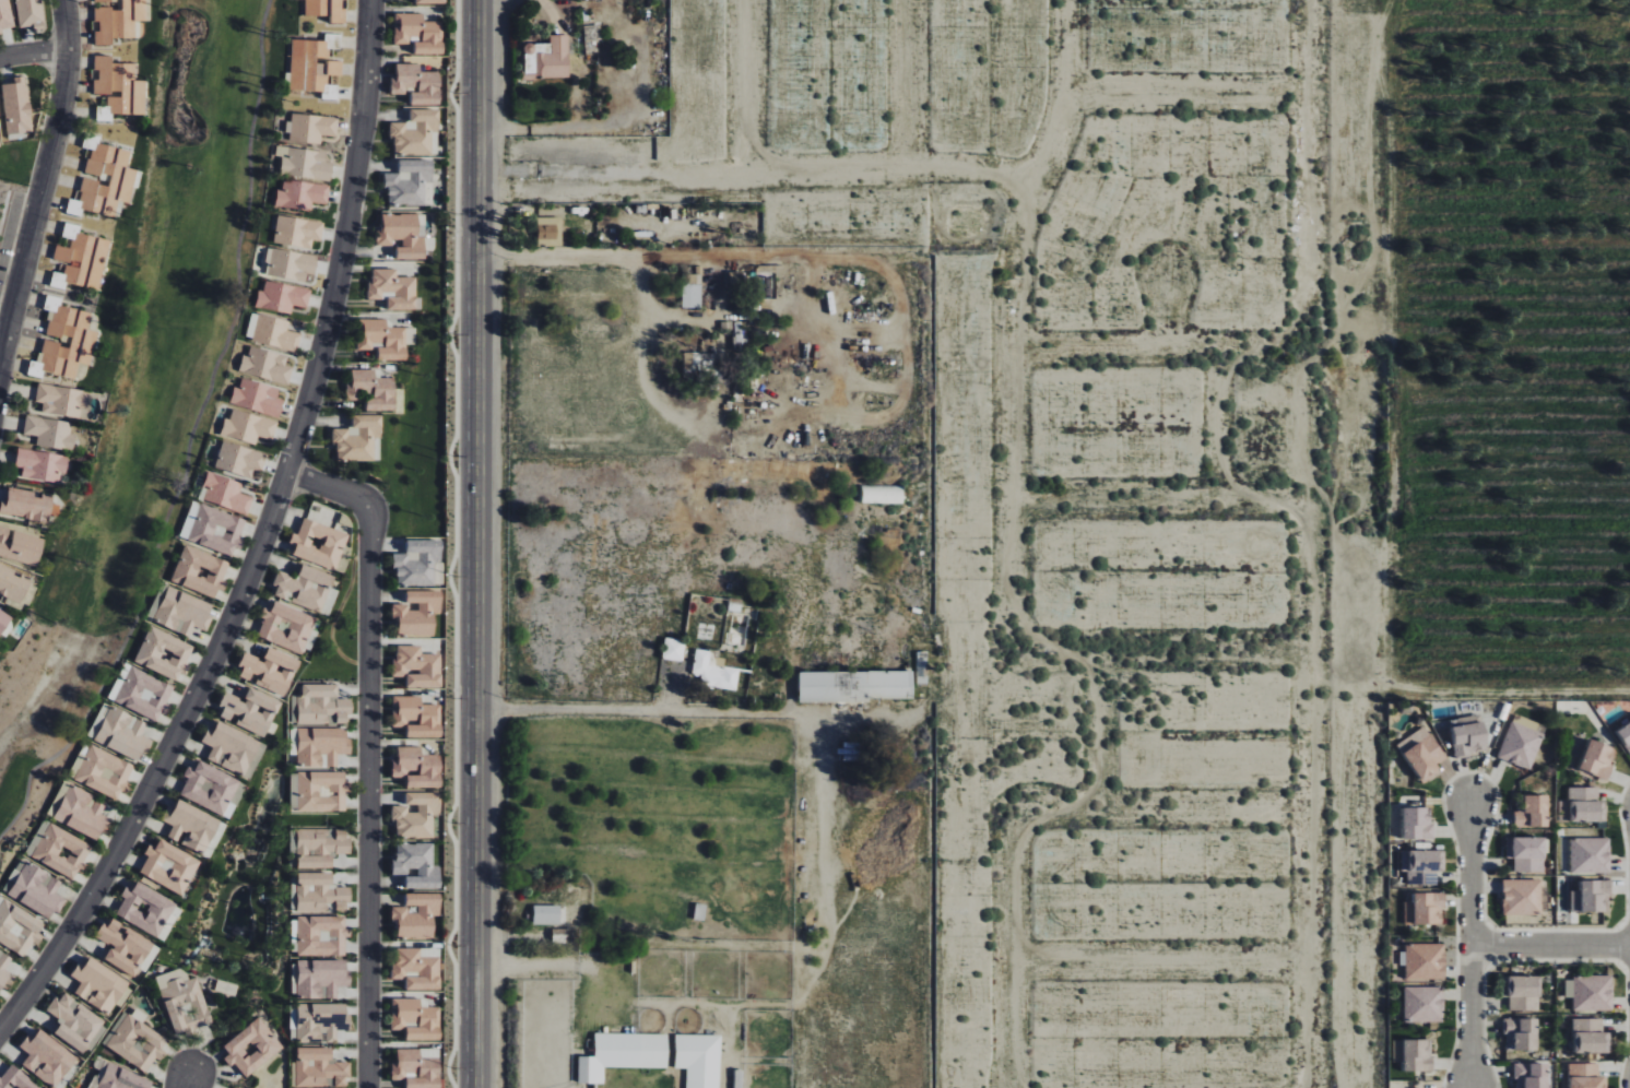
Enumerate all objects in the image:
building: (428, 1)
building: (327, 10)
building: (29, 13)
building: (4, 15)
building: (120, 21)
fountain: (186, 31)
building: (418, 33)
road: (33, 52)
building: (547, 58)
building: (314, 63)
building: (416, 84)
building: (119, 87)
building: (331, 92)
building: (16, 107)
building: (311, 128)
building: (415, 133)
building: (0, 145)
building: (304, 164)
building: (116, 175)
road: (42, 182)
building: (409, 182)
building: (300, 194)
building: (550, 230)
building: (297, 232)
building: (402, 236)
building: (81, 260)
road: (342, 260)
building: (290, 264)
building: (393, 289)
building: (692, 296)
building: (282, 297)
building: (271, 332)
building: (76, 336)
building: (385, 340)
crop: (1510, 350)
building: (705, 363)
building: (265, 366)
building: (371, 390)
park: (147, 394)
building: (257, 398)
building: (62, 401)
building: (248, 427)
building: (50, 433)
road: (190, 439)
building: (357, 439)
road: (1393, 459)
building: (239, 460)
building: (42, 465)
building: (223, 493)
building: (883, 494)
building: (26, 504)
building: (215, 530)
road: (475, 543)
building: (317, 544)
building: (20, 546)
building: (200, 570)
building: (14, 584)
building: (304, 587)
building: (180, 611)
building: (417, 614)
building: (3, 619)
building: (285, 626)
building: (673, 649)
building: (164, 652)
fountain: (22, 662)
building: (417, 666)
building: (270, 670)
building: (713, 672)
building: (855, 685)
building: (144, 693)
building: (321, 705)
building: (250, 710)
road: (598, 714)
building: (416, 717)
building: (123, 733)
building: (1625, 736)
building: (1465, 737)
building: (320, 745)
building: (1519, 746)
building: (229, 747)
road: (369, 752)
building: (1421, 757)
building: (1593, 760)
building: (417, 767)
building: (102, 770)
road: (151, 780)
building: (211, 789)
building: (320, 791)
building: (1582, 804)
building: (80, 811)
building: (1529, 812)
building: (416, 815)
building: (1415, 824)
building: (190, 826)
fountain: (265, 826)
road: (1452, 835)
fountain: (3, 847)
building: (320, 847)
building: (58, 849)
fountain: (229, 852)
building: (1523, 852)
road: (1626, 853)
building: (1587, 855)
building: (416, 865)
building: (168, 866)
building: (1421, 866)
building: (36, 890)
building: (319, 891)
building: (1590, 895)
building: (1517, 897)
building: (1424, 907)
building: (145, 908)
fountain: (240, 914)
building: (416, 915)
building: (17, 927)
road: (1556, 931)
building: (321, 935)
building: (559, 935)
road: (1470, 944)
building: (125, 946)
road: (1488, 946)
road: (1550, 946)
road: (1623, 946)
road: (1556, 960)
building: (1424, 961)
fountain: (187, 962)
building: (417, 968)
building: (3, 969)
building: (320, 978)
building: (98, 985)
fountain: (269, 985)
building: (1519, 993)
building: (1590, 994)
building: (184, 1001)
building: (1422, 1005)
building: (415, 1019)
building: (74, 1021)
building: (320, 1021)
road: (1627, 1026)
road: (1485, 1027)
building: (1520, 1033)
building: (1586, 1037)
building: (134, 1042)
building: (251, 1048)
building: (623, 1054)
building: (1413, 1056)
building: (46, 1057)
building: (699, 1060)
building: (319, 1067)
building: (417, 1067)
building: (1528, 1075)
building: (117, 1076)
building: (1582, 1076)
building: (15, 1078)
road: (187, 1084)

